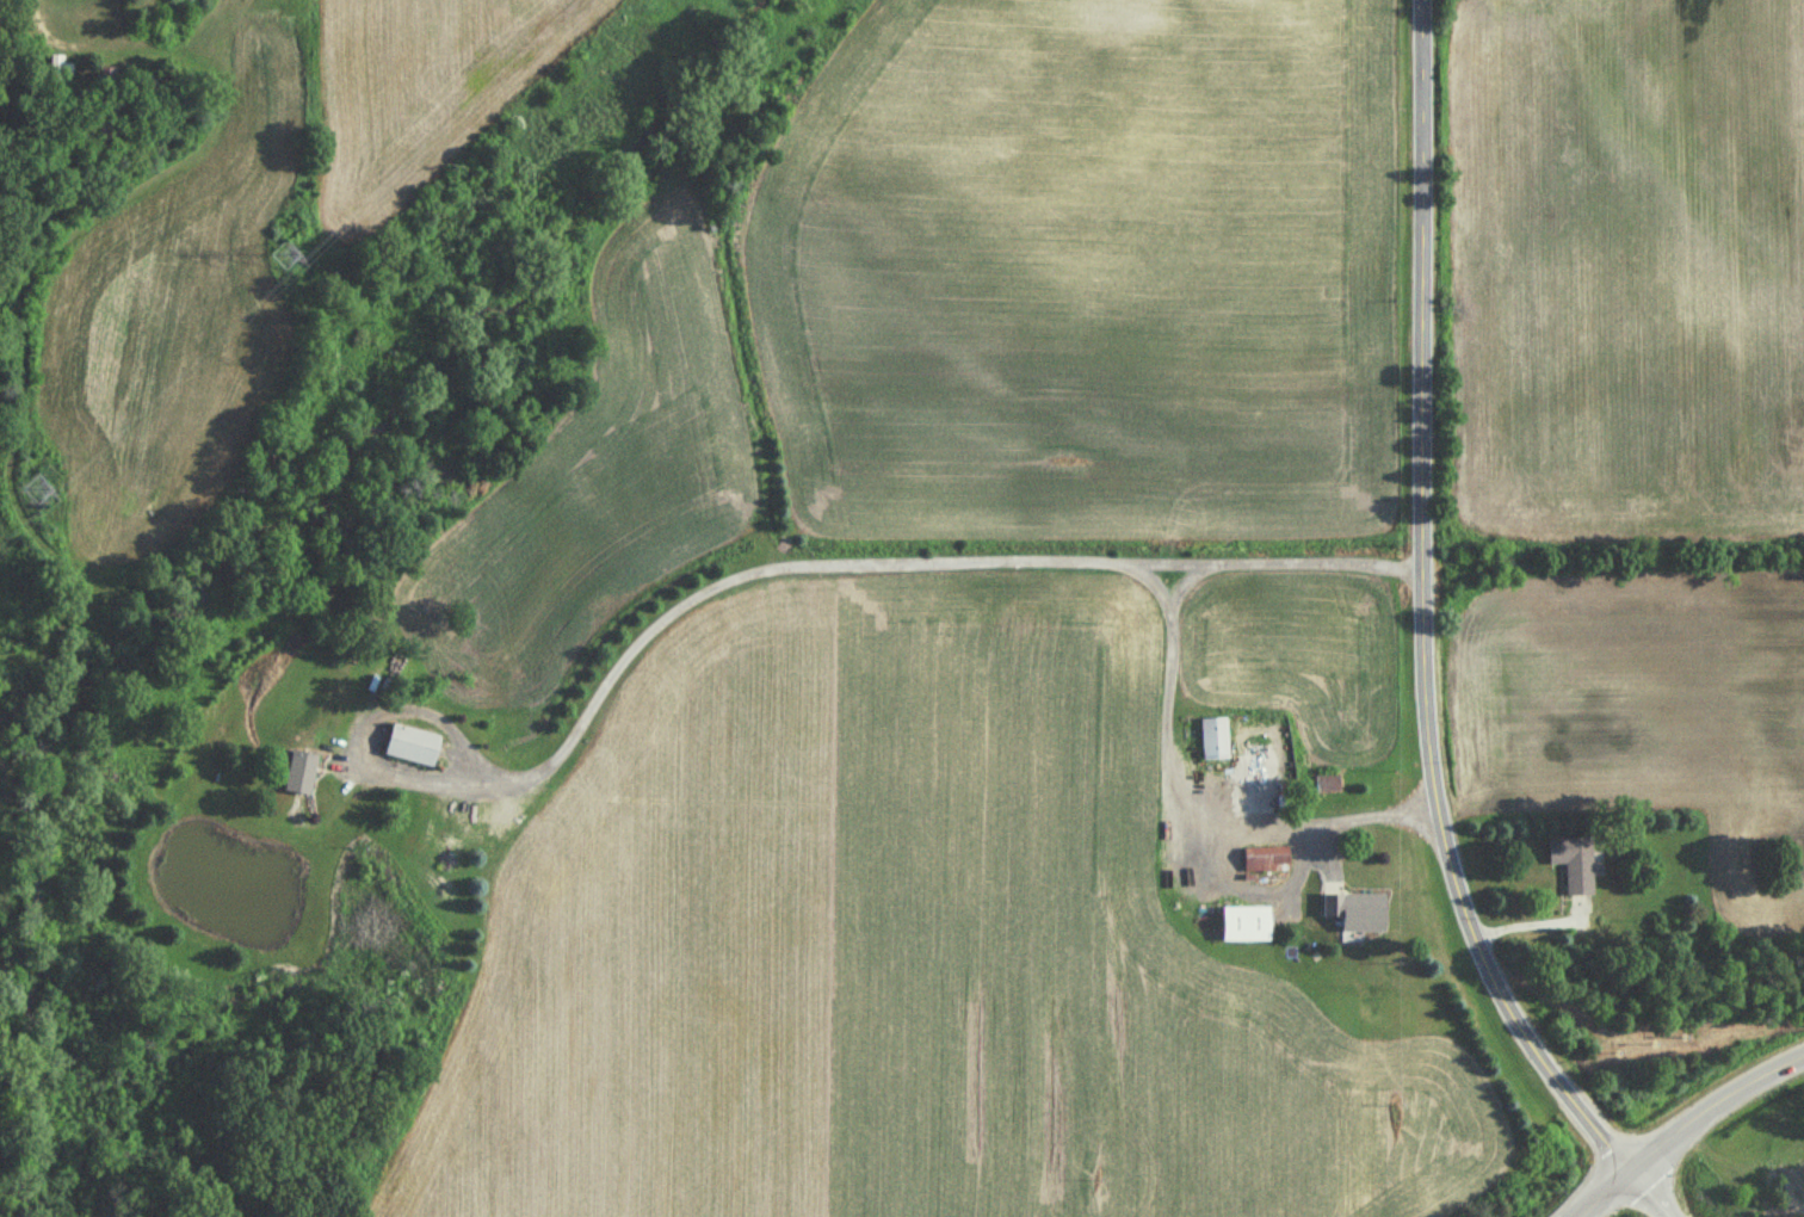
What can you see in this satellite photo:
building: (62, 70)
power tower: (289, 259)
power tower: (39, 496)
road: (754, 566)
road: (1426, 610)
building: (1211, 737)
building: (408, 745)
building: (297, 772)
road: (1192, 801)
building: (1267, 861)
building: (1570, 863)
building: (1352, 910)
building: (1242, 922)
road: (1712, 1111)
road: (1611, 1186)
road: (1649, 1192)
road: (1586, 1210)
road: (1589, 1210)

